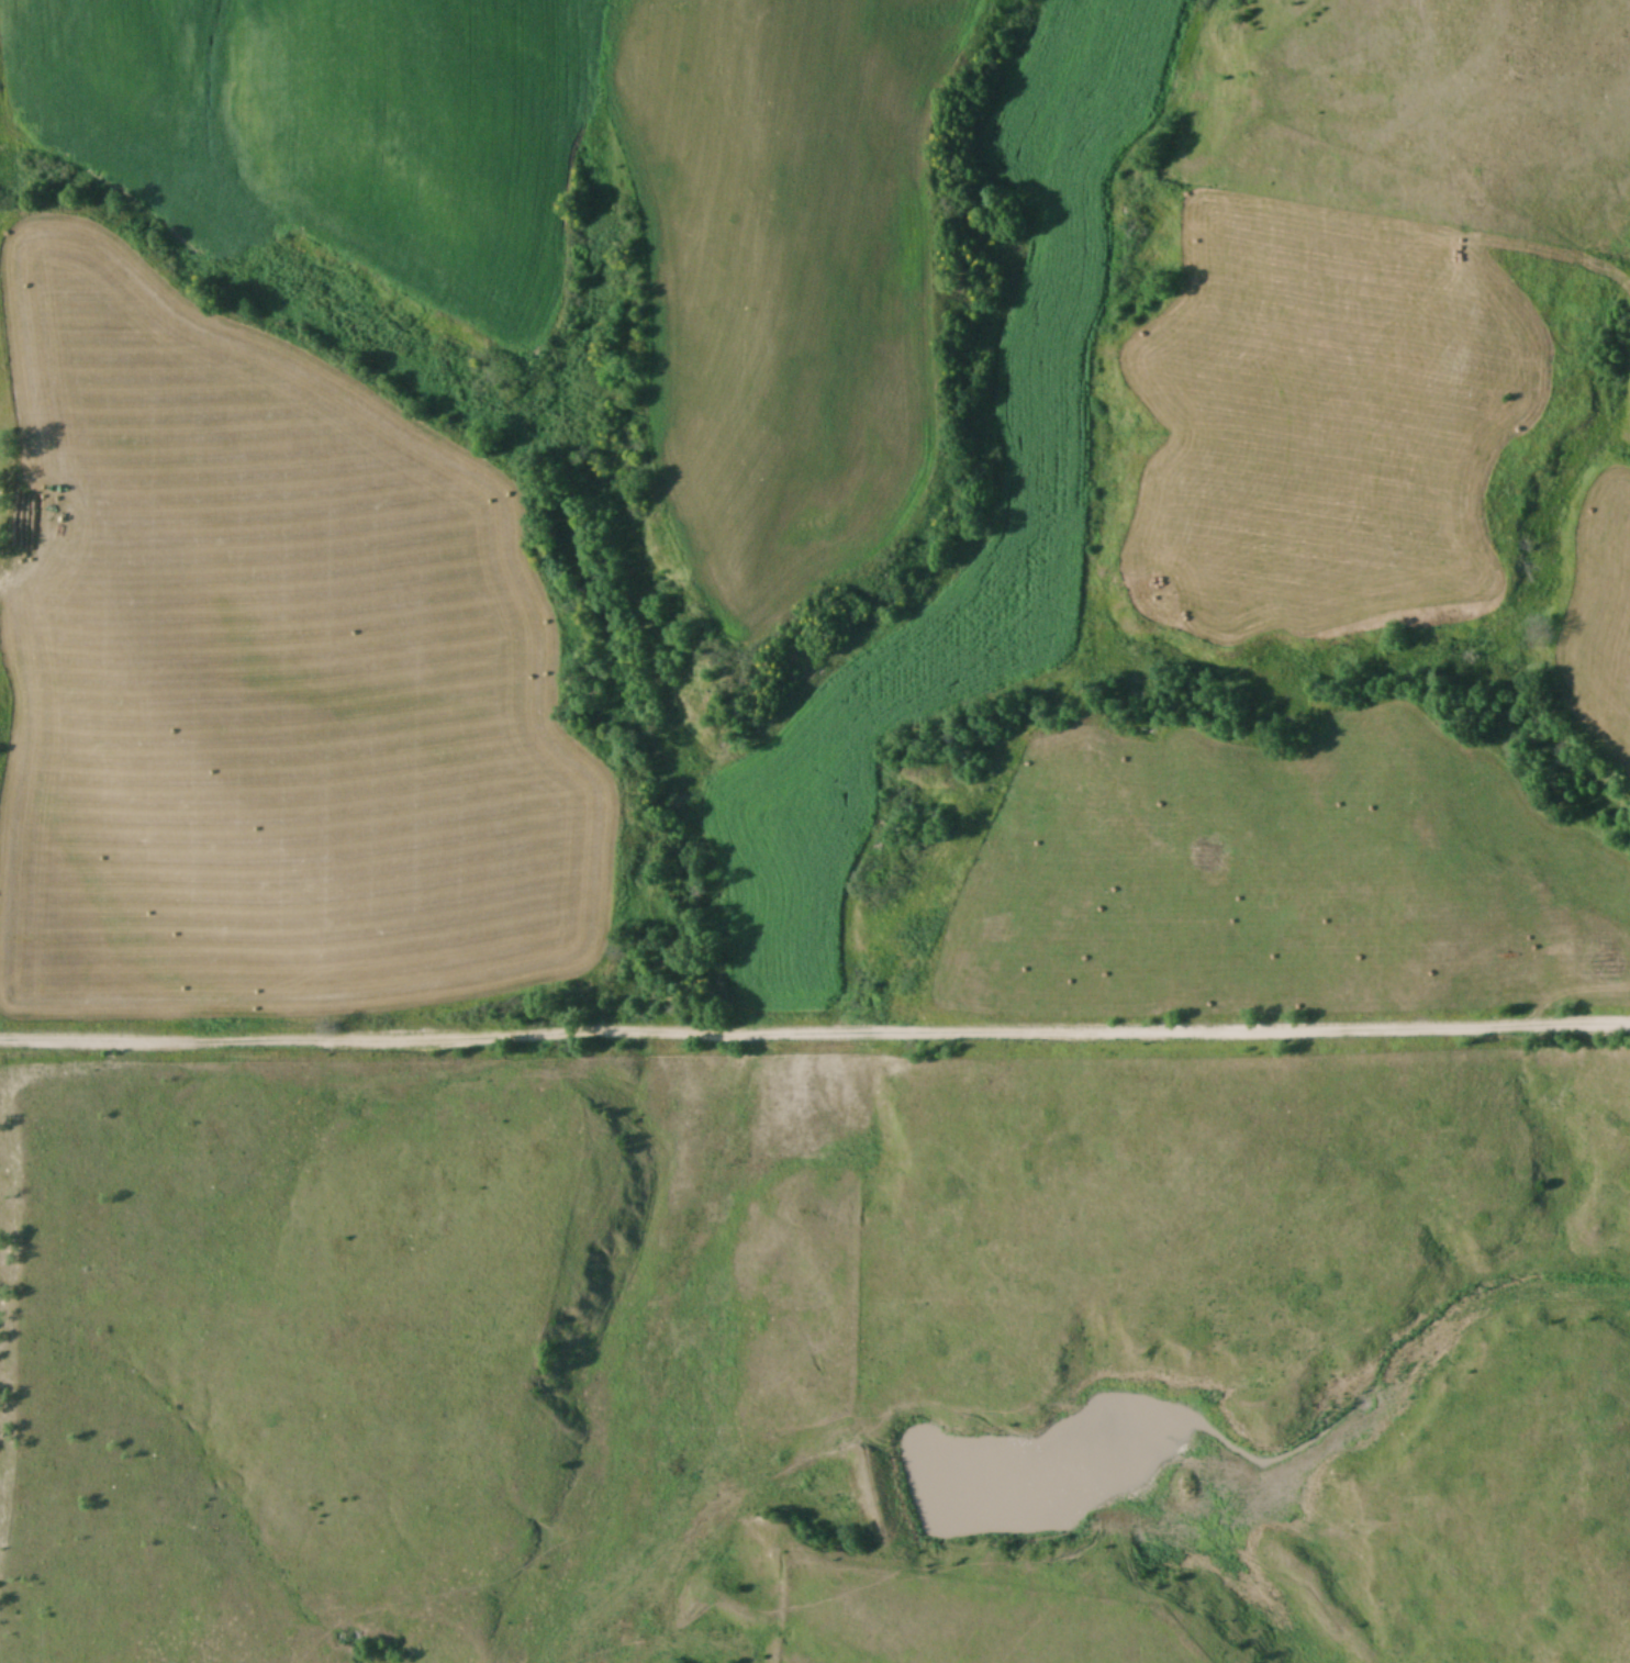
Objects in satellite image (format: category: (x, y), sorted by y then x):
road: (814, 1030)

